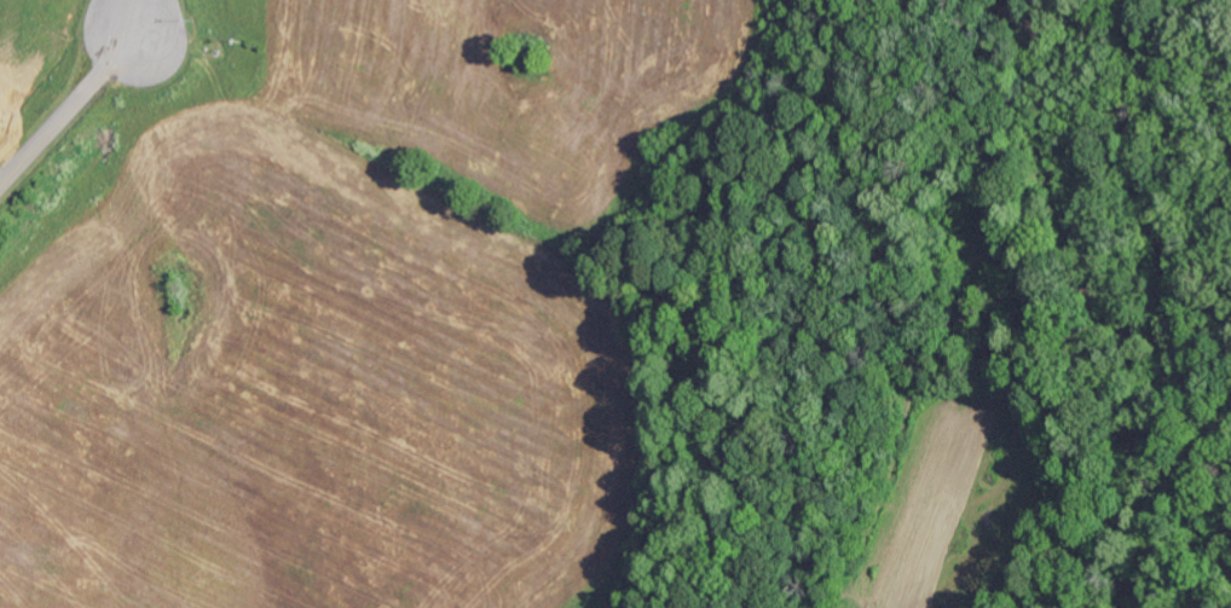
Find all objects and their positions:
road: (139, 17)
road: (68, 110)

